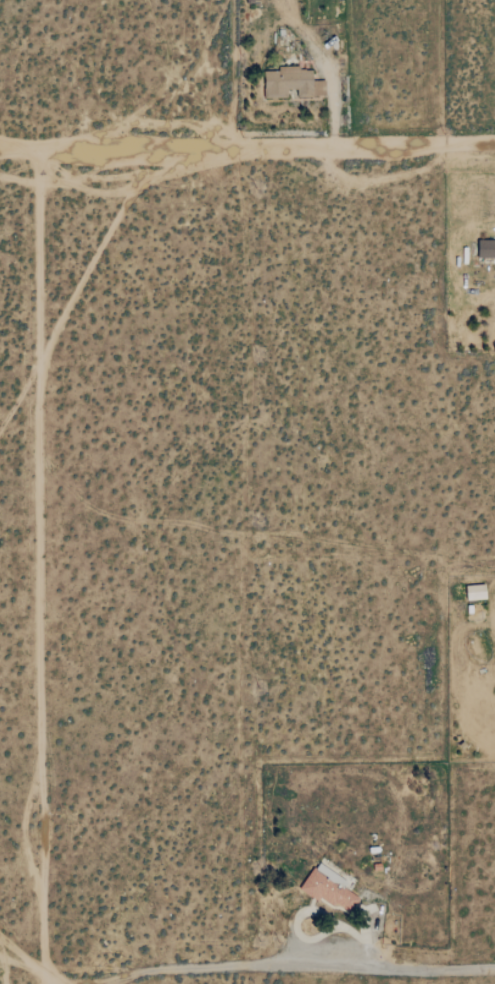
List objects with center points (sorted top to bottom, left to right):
building: (293, 83)
road: (247, 153)
building: (487, 249)
road: (42, 568)
building: (470, 592)
building: (329, 887)
road: (269, 968)

